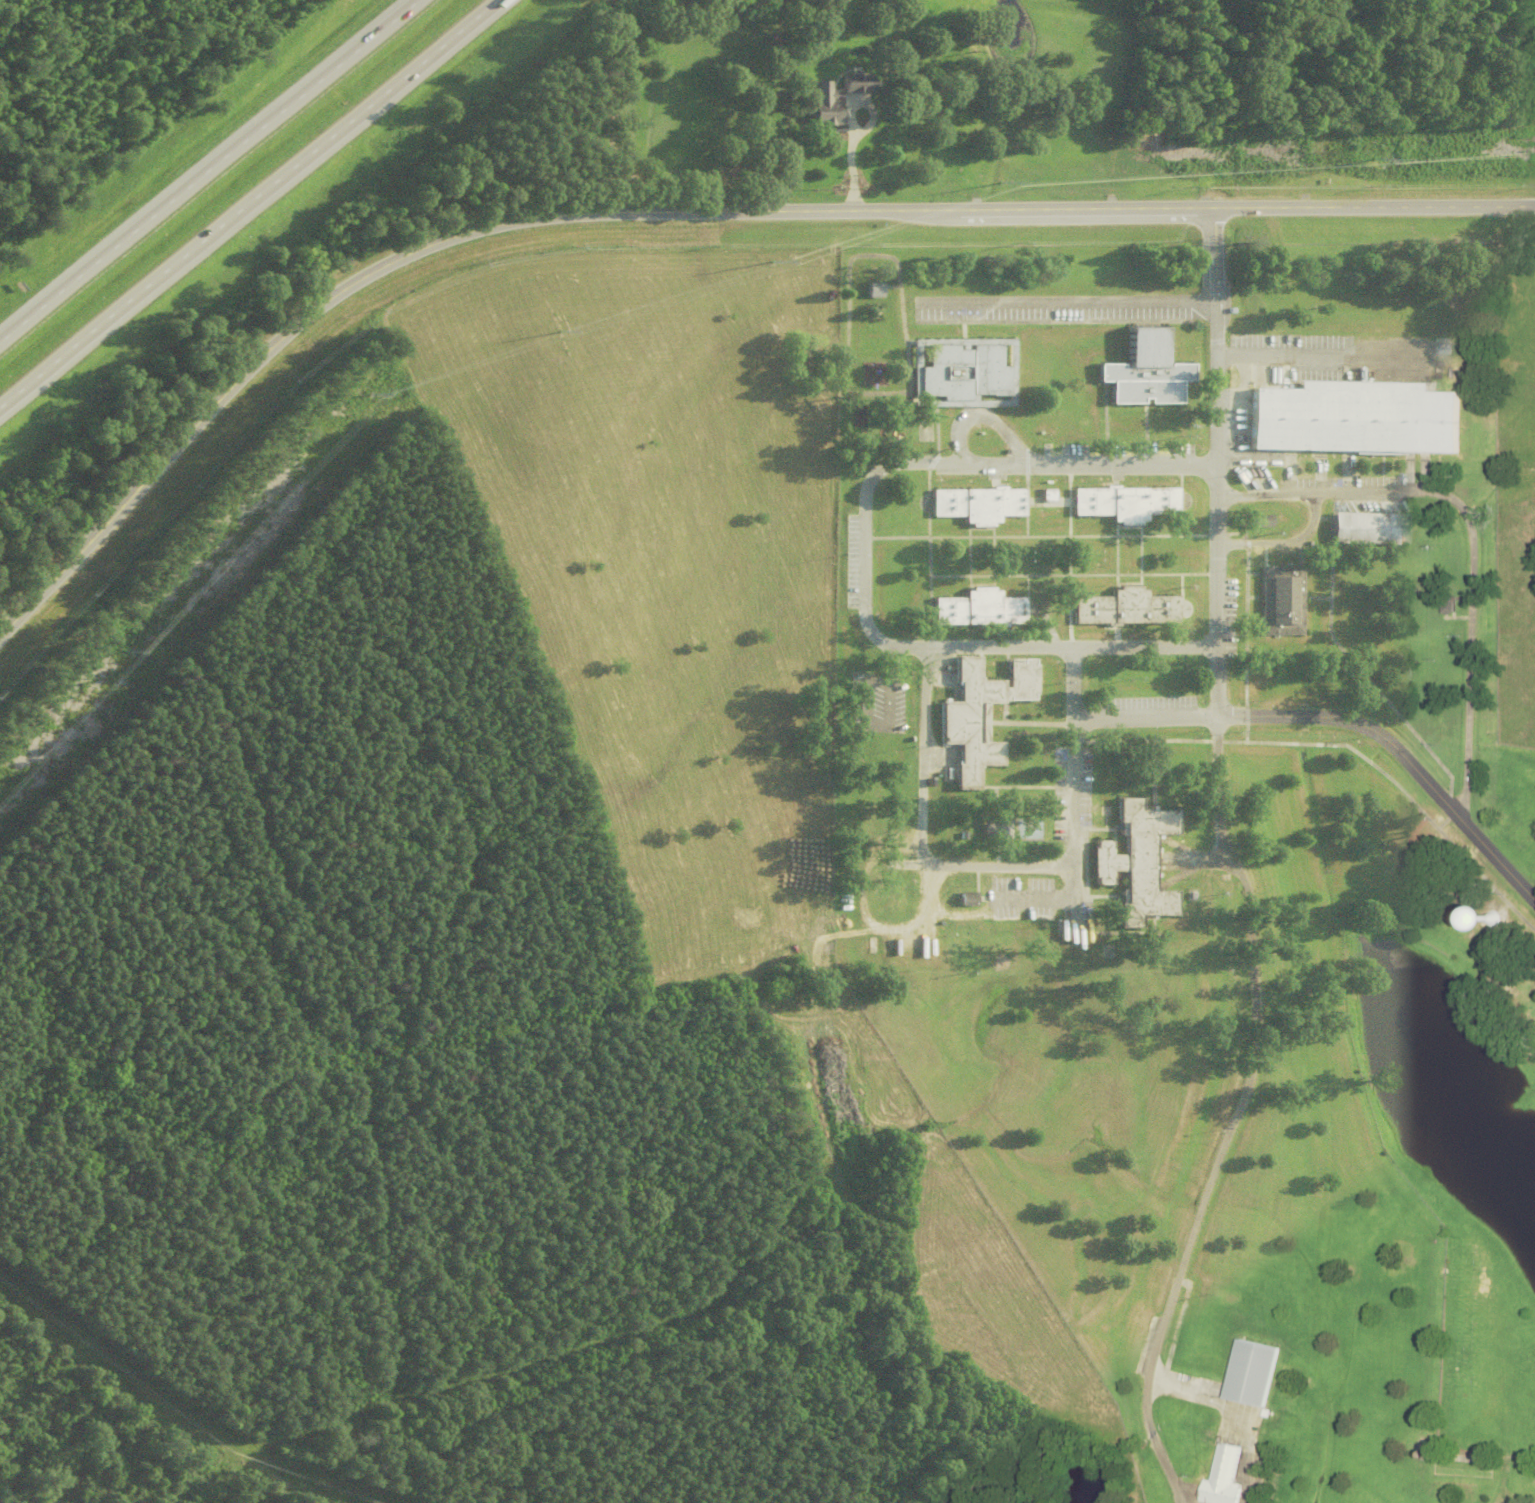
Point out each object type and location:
building: (856, 81)
building: (824, 104)
road: (848, 159)
road: (209, 170)
road: (249, 202)
road: (687, 208)
building: (873, 289)
road: (1066, 301)
road: (1321, 355)
building: (1145, 368)
building: (963, 371)
building: (1355, 417)
road: (1215, 461)
building: (1046, 494)
building: (1123, 502)
building: (977, 503)
building: (1256, 519)
building: (1367, 527)
road: (1472, 537)
road: (1283, 542)
road: (863, 553)
building: (1281, 599)
building: (1124, 607)
building: (978, 608)
building: (978, 713)
road: (1340, 718)
road: (1072, 773)
park: (1028, 829)
road: (921, 830)
building: (994, 830)
building: (1134, 862)
building: (895, 885)
building: (966, 898)
road: (1032, 899)
road: (1073, 915)
building: (1493, 917)
water tower: (1493, 920)
road: (1234, 1114)
building: (1251, 1373)
building: (1224, 1476)

